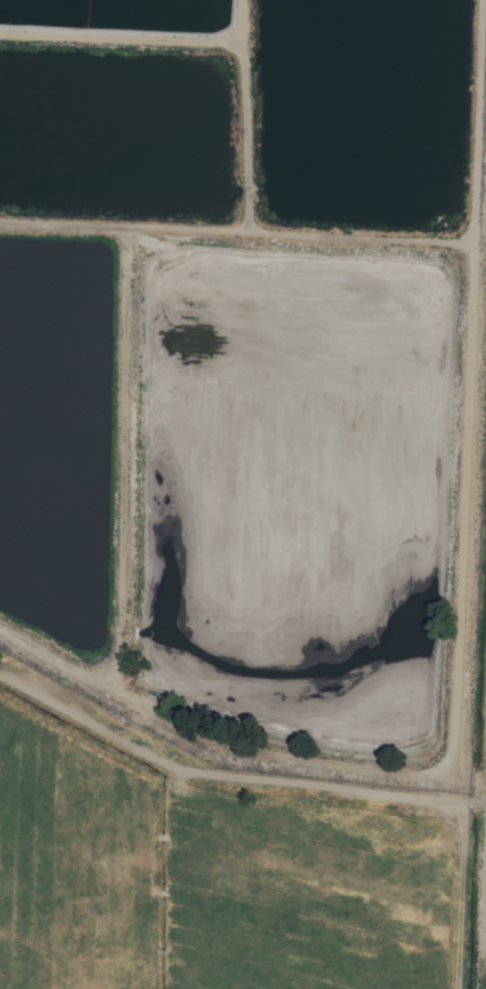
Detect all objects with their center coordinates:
wastewater plant: (253, 389)

